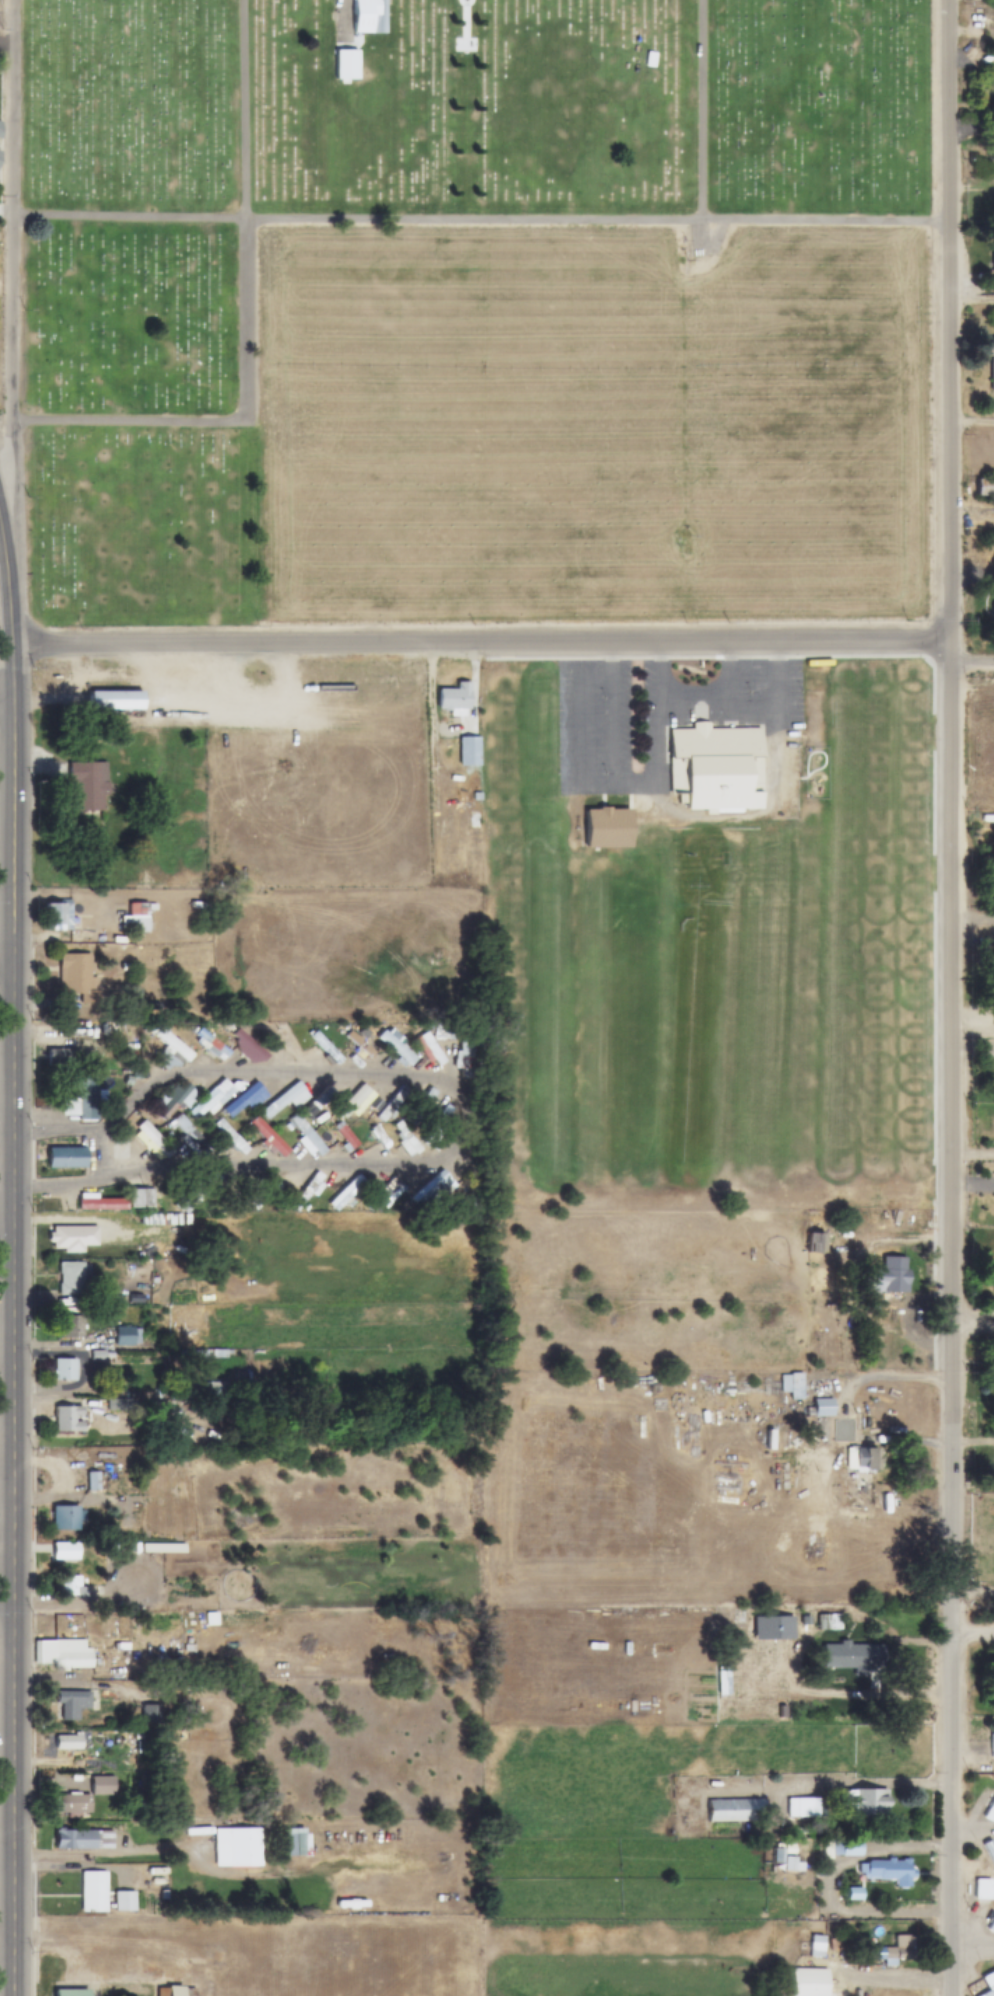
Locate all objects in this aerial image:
building: (369, 17)
road: (242, 111)
road: (700, 111)
building: (0, 124)
road: (475, 222)
building: (993, 263)
road: (8, 265)
park: (471, 312)
road: (950, 322)
building: (991, 367)
building: (985, 486)
road: (1, 524)
building: (993, 616)
road: (479, 644)
road: (947, 654)
road: (971, 664)
road: (7, 682)
building: (113, 699)
building: (458, 704)
road: (7, 708)
building: (468, 751)
building: (715, 767)
building: (85, 784)
building: (606, 827)
building: (56, 916)
building: (135, 918)
building: (125, 958)
road: (8, 961)
building: (76, 980)
building: (107, 1027)
building: (210, 1046)
building: (283, 1046)
building: (396, 1047)
building: (169, 1048)
building: (325, 1048)
building: (430, 1050)
building: (461, 1055)
building: (62, 1056)
building: (78, 1096)
building: (177, 1099)
building: (212, 1099)
building: (285, 1099)
building: (358, 1099)
building: (244, 1101)
building: (393, 1104)
building: (311, 1109)
road: (463, 1118)
building: (439, 1121)
building: (188, 1135)
building: (344, 1135)
building: (230, 1136)
building: (306, 1136)
building: (267, 1137)
building: (405, 1138)
building: (382, 1139)
building: (150, 1141)
building: (65, 1158)
building: (346, 1193)
building: (383, 1194)
building: (191, 1195)
building: (140, 1199)
building: (98, 1203)
road: (107, 1220)
road: (7, 1221)
building: (72, 1238)
building: (815, 1244)
road: (14, 1262)
building: (888, 1277)
building: (70, 1278)
road: (972, 1326)
building: (70, 1327)
road: (950, 1330)
building: (126, 1336)
building: (63, 1370)
building: (238, 1380)
road: (890, 1380)
building: (791, 1385)
building: (214, 1391)
building: (822, 1407)
building: (67, 1420)
building: (860, 1459)
building: (64, 1519)
building: (64, 1552)
building: (70, 1586)
road: (971, 1593)
road: (5, 1601)
building: (727, 1623)
building: (828, 1623)
road: (867, 1640)
road: (972, 1640)
building: (61, 1653)
building: (850, 1671)
road: (864, 1691)
building: (71, 1704)
road: (4, 1736)
building: (67, 1742)
building: (992, 1746)
building: (101, 1786)
road: (861, 1788)
building: (864, 1803)
building: (72, 1804)
building: (800, 1807)
building: (736, 1810)
building: (989, 1812)
road: (973, 1834)
building: (83, 1840)
building: (296, 1843)
road: (5, 1847)
building: (245, 1848)
building: (848, 1848)
building: (990, 1853)
road: (114, 1855)
building: (888, 1871)
building: (982, 1888)
building: (93, 1891)
building: (991, 1927)
building: (899, 1950)
road: (973, 1952)
road: (893, 1973)
building: (808, 1982)
building: (988, 1983)
building: (72, 1993)

